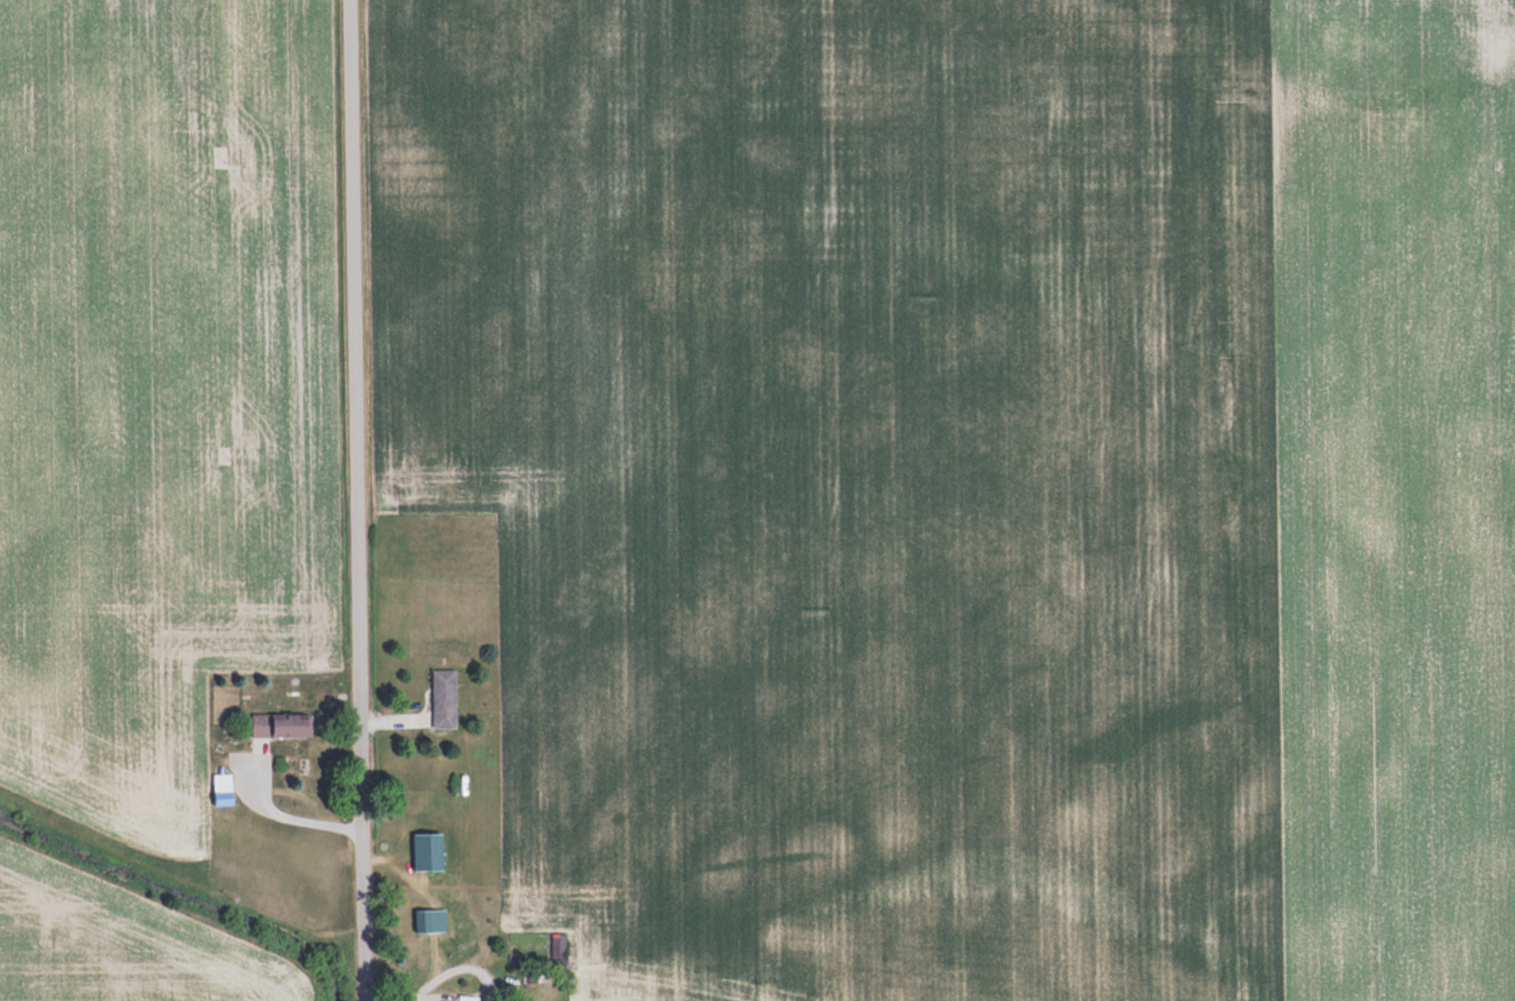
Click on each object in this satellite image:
road: (359, 500)
building: (442, 698)
building: (279, 725)
building: (221, 789)
building: (426, 852)
building: (429, 921)

